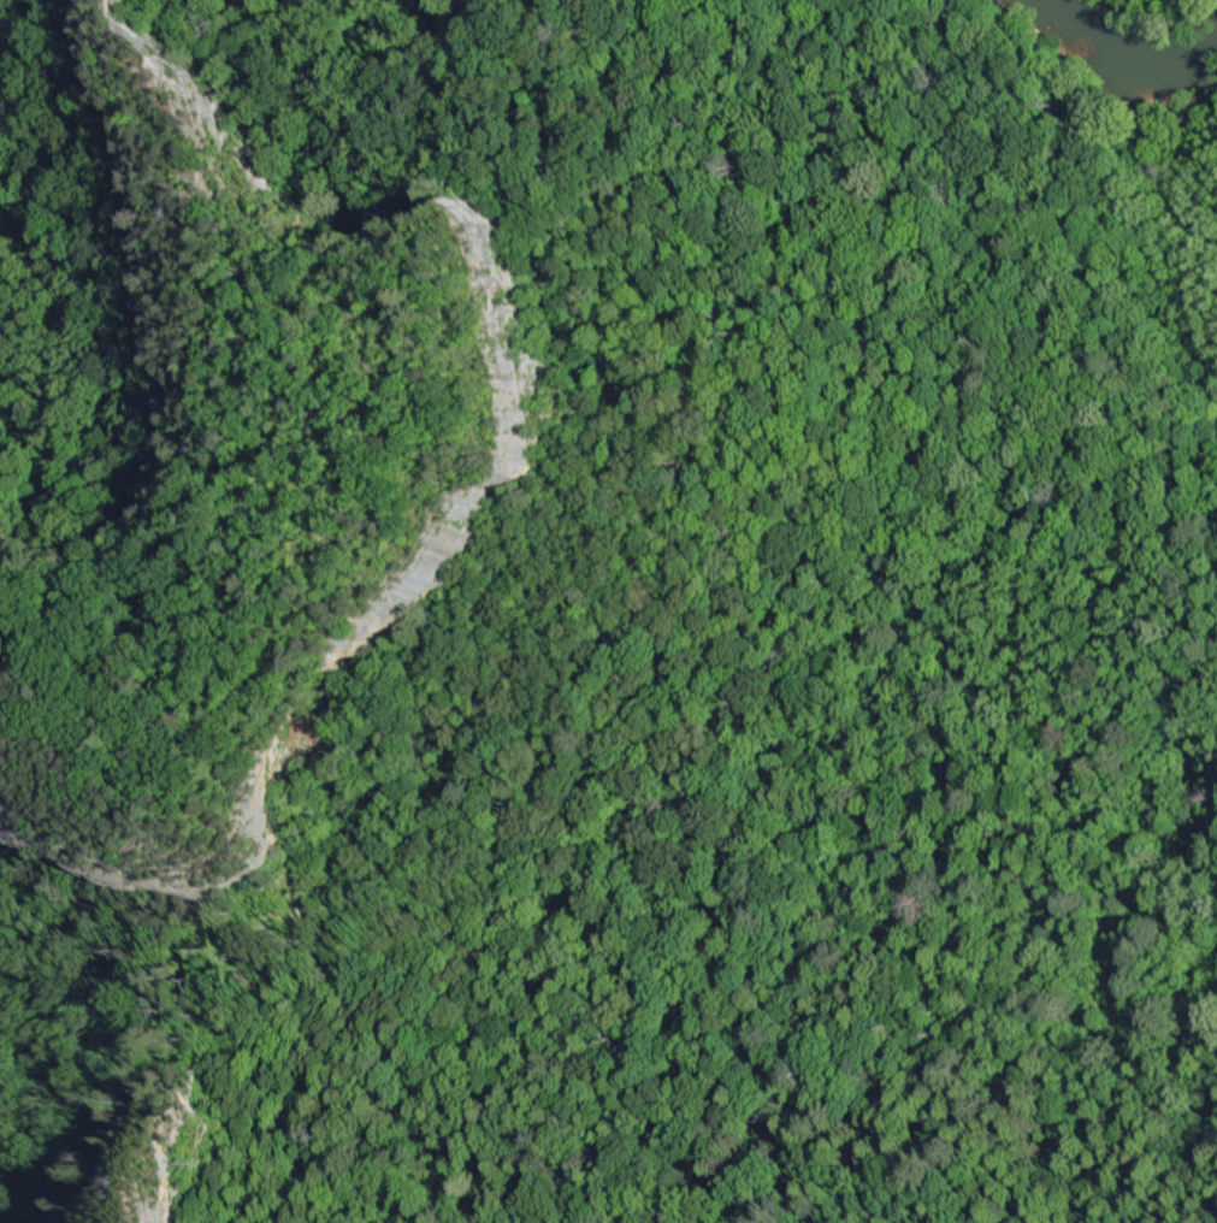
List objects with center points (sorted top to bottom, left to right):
river: (1138, 55)
road: (150, 1206)

